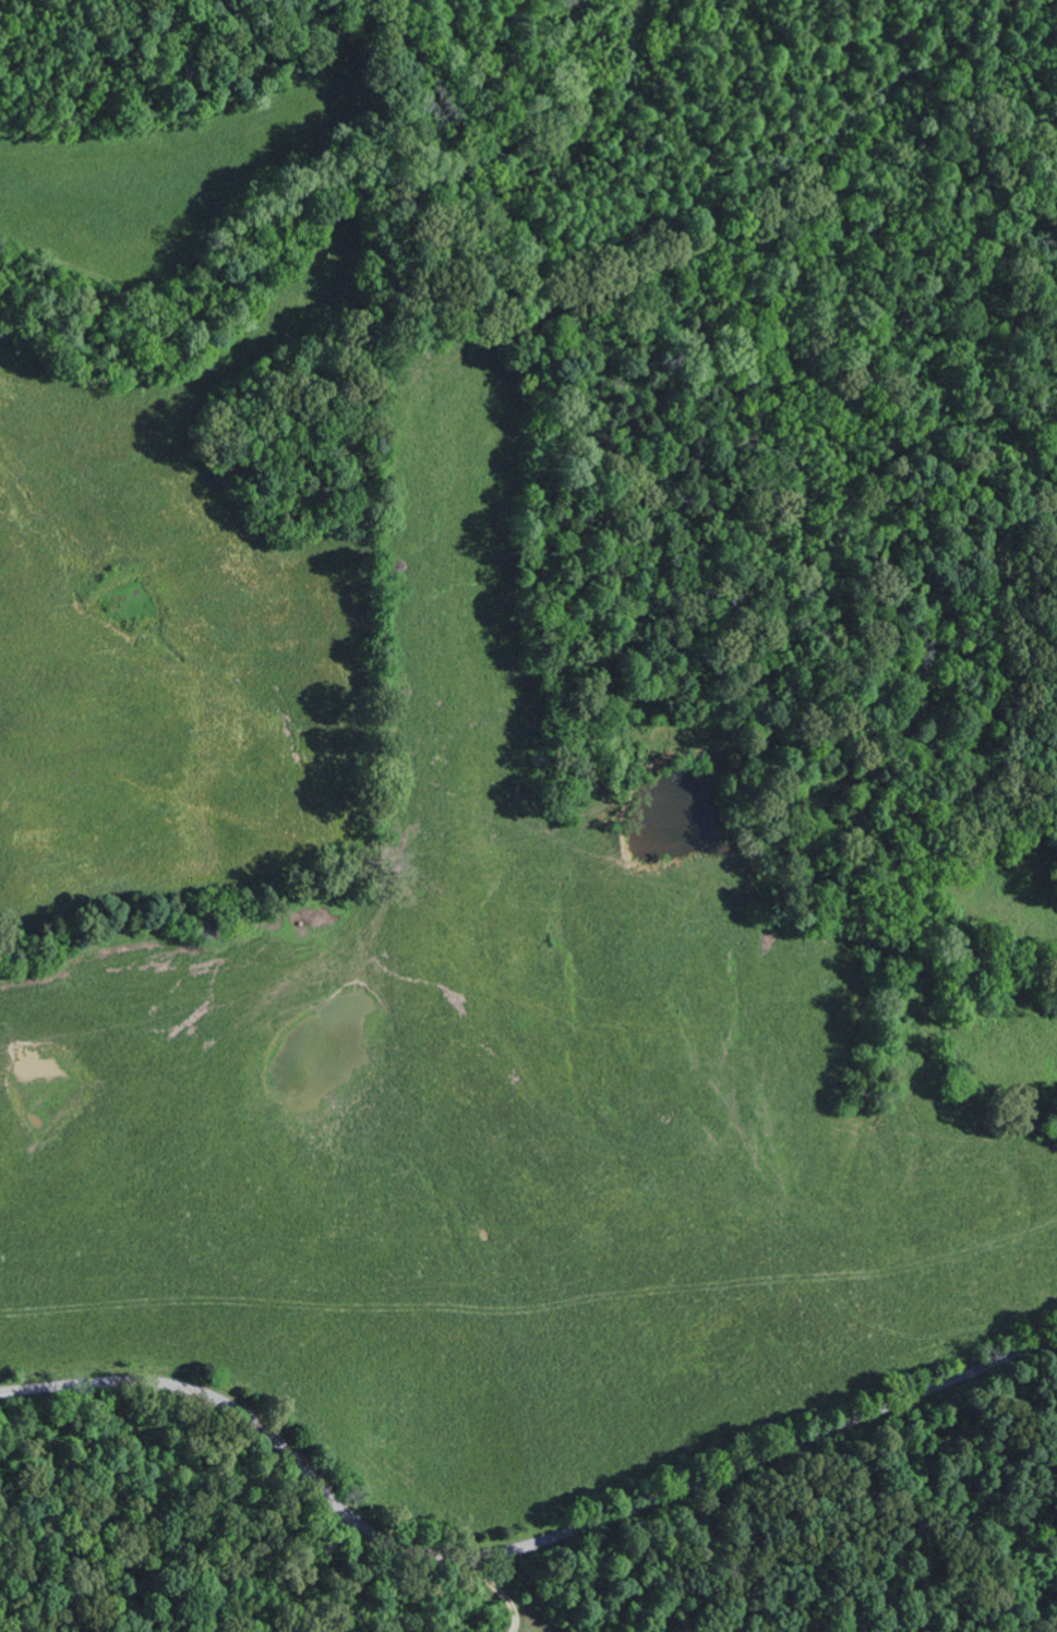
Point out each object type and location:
road: (518, 1544)

